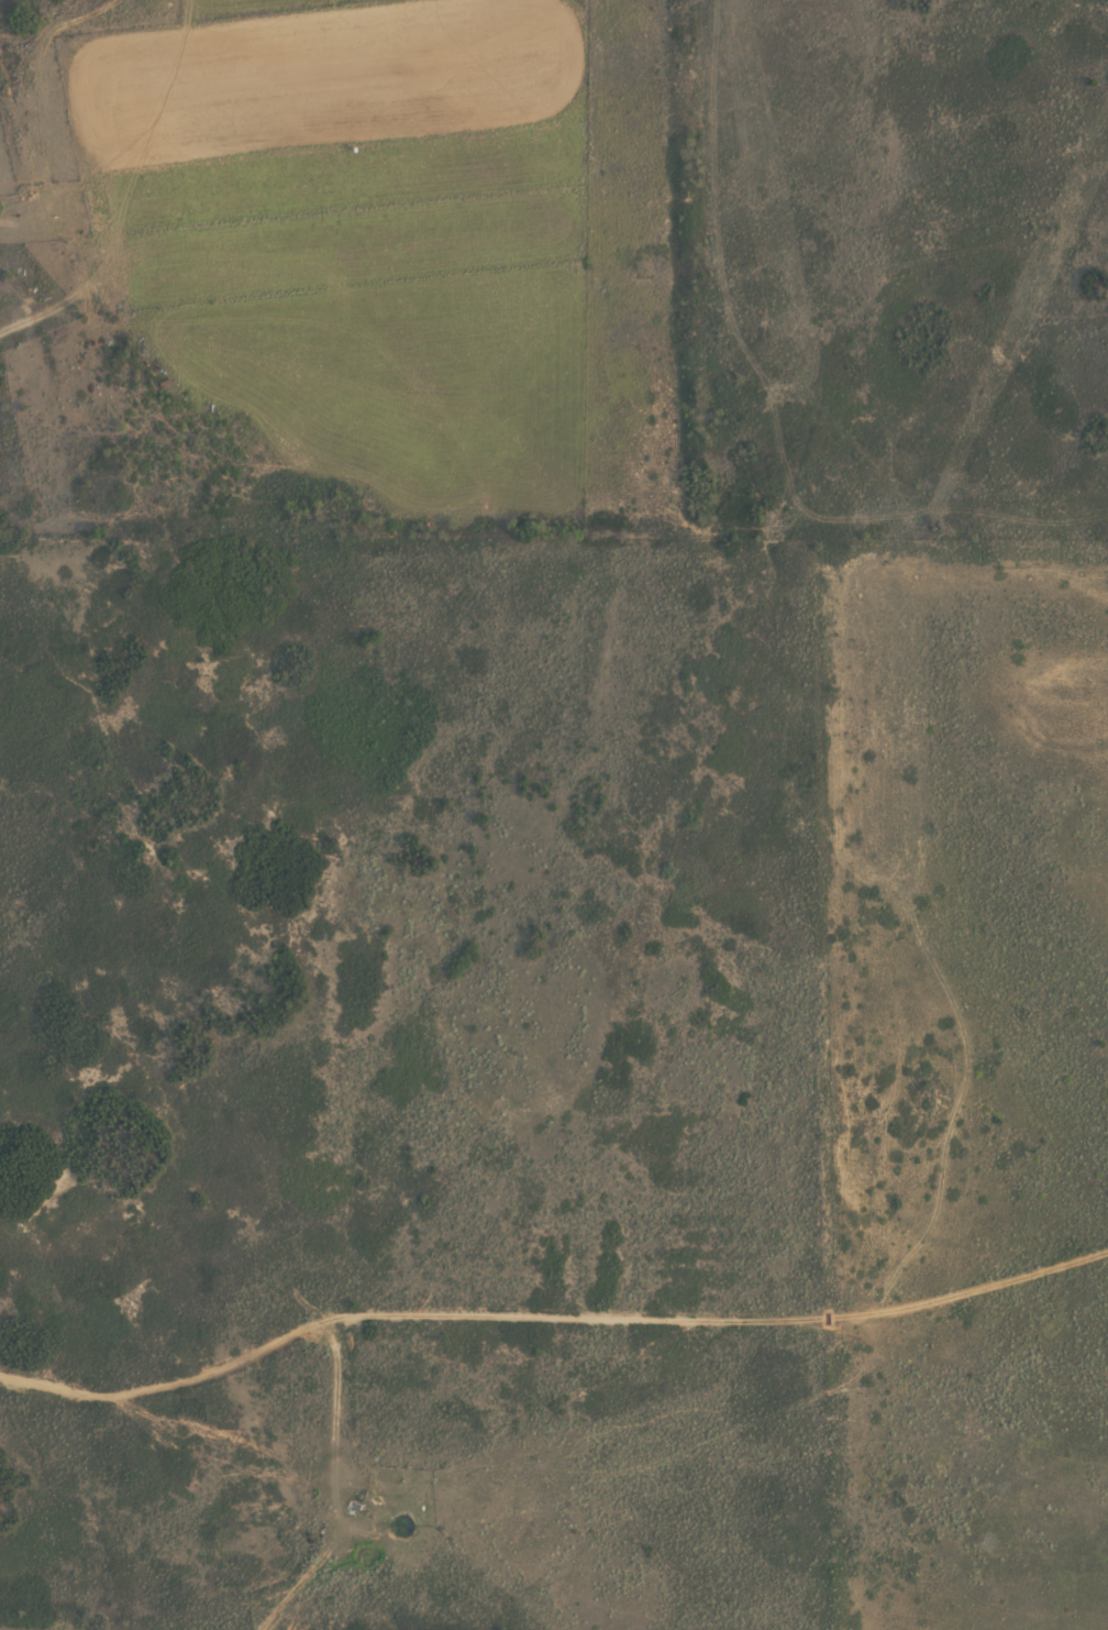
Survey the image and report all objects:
road: (551, 1320)

